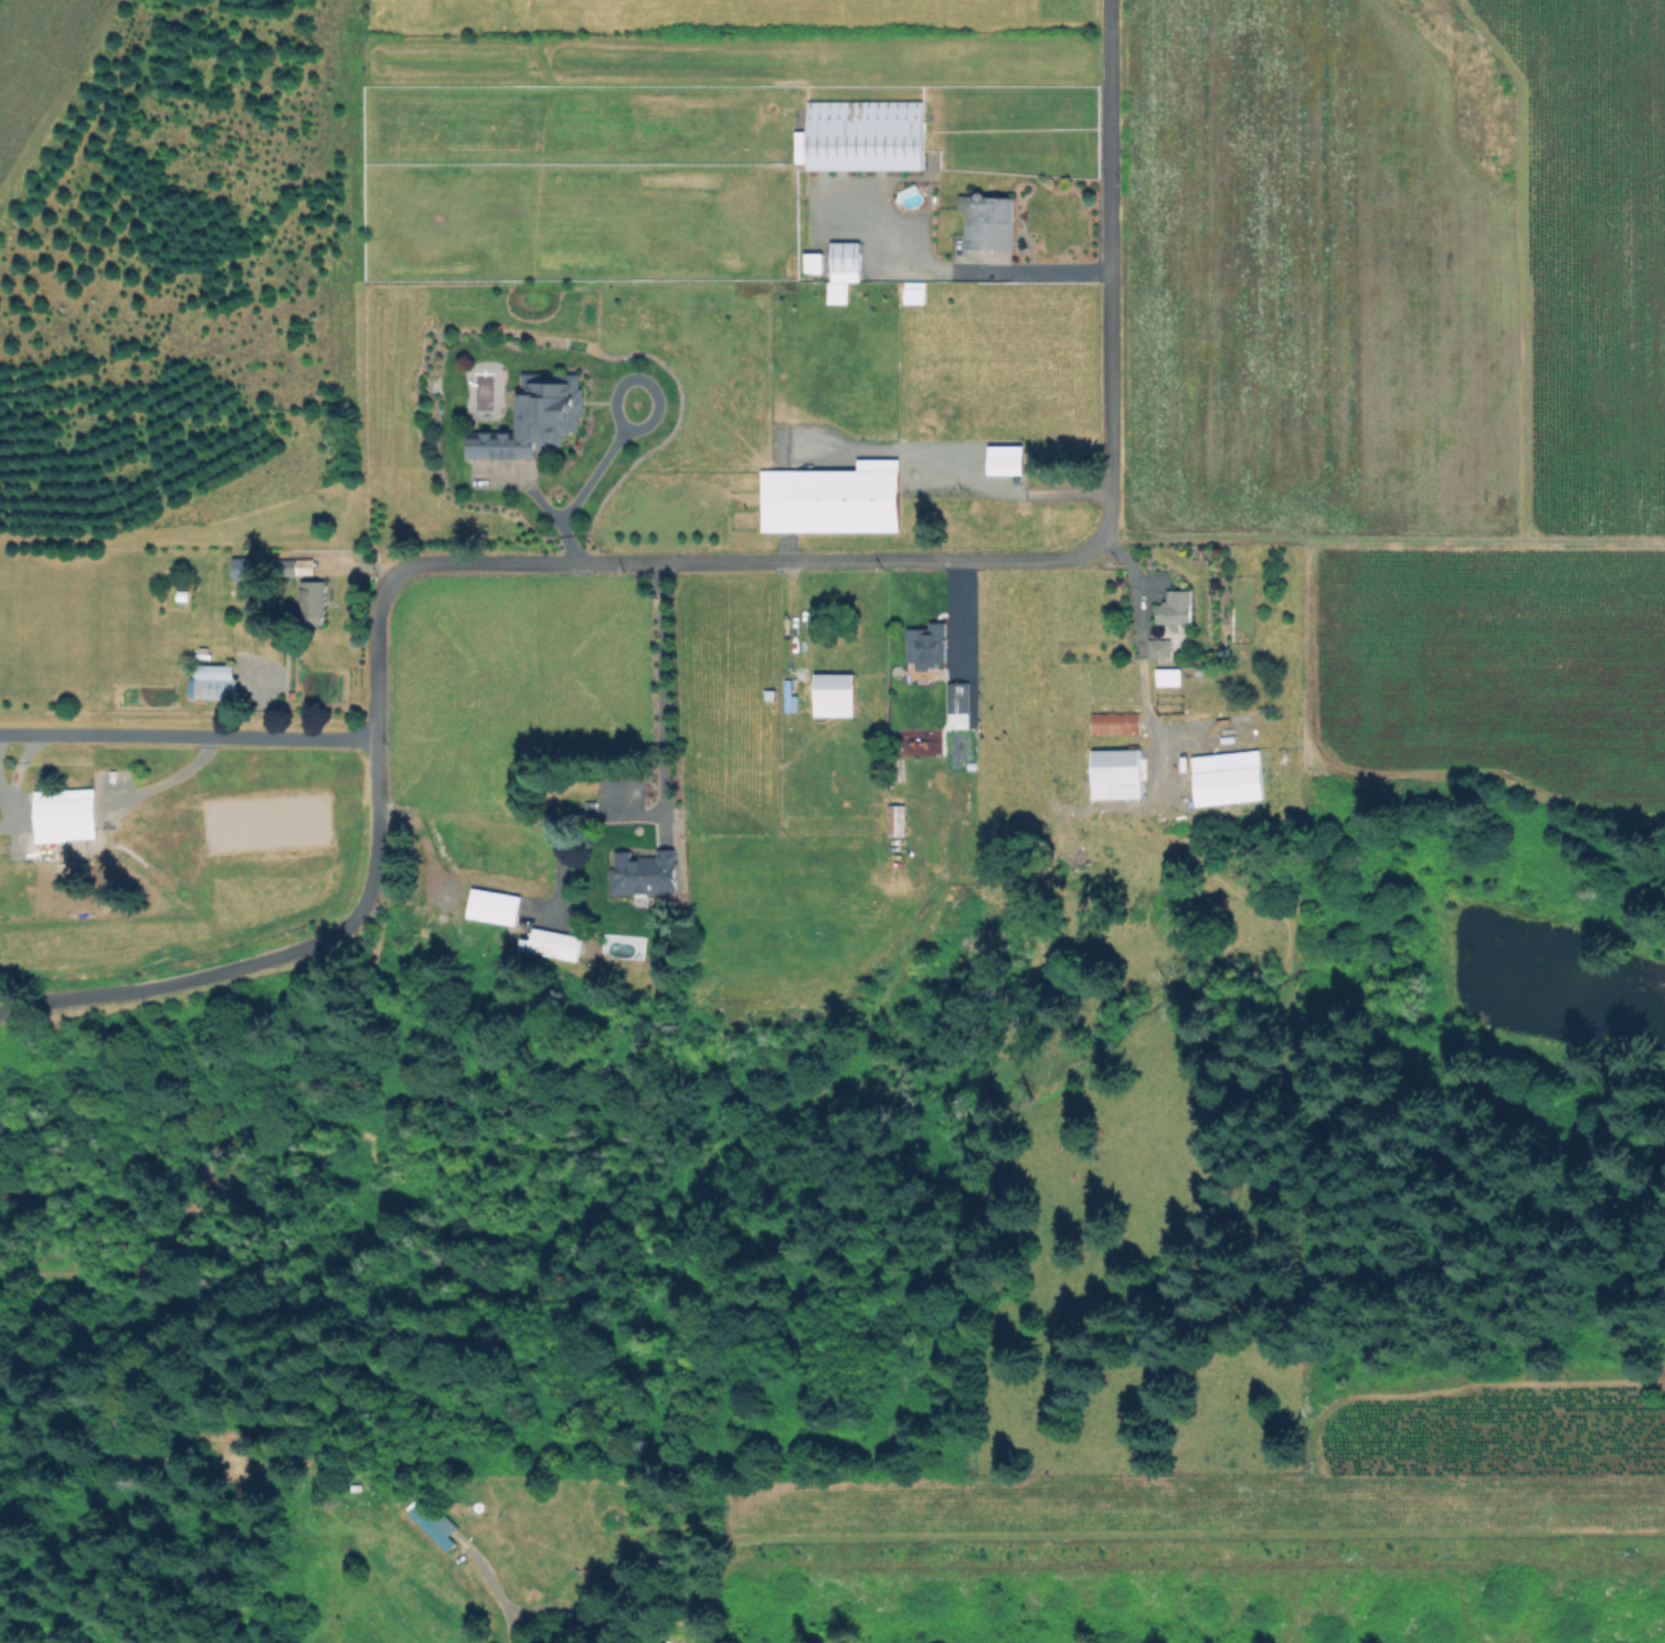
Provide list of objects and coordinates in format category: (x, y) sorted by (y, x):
building: (862, 136)
building: (989, 222)
building: (846, 262)
building: (814, 263)
road: (969, 272)
building: (933, 293)
building: (934, 416)
building: (531, 422)
building: (919, 470)
road: (581, 479)
road: (1022, 494)
building: (829, 502)
building: (988, 524)
road: (1380, 537)
building: (1200, 554)
road: (658, 561)
building: (300, 568)
building: (242, 569)
building: (283, 570)
building: (315, 603)
building: (1176, 608)
building: (932, 646)
building: (1160, 648)
building: (1169, 676)
building: (210, 685)
building: (771, 695)
building: (835, 695)
road: (660, 700)
building: (959, 706)
building: (1116, 723)
road: (187, 735)
building: (1116, 774)
building: (1228, 776)
building: (590, 804)
building: (1165, 814)
building: (897, 820)
building: (66, 827)
building: (643, 872)
building: (495, 907)
building: (552, 944)
building: (358, 1488)
building: (431, 1523)
road: (524, 1612)
road: (515, 1628)

